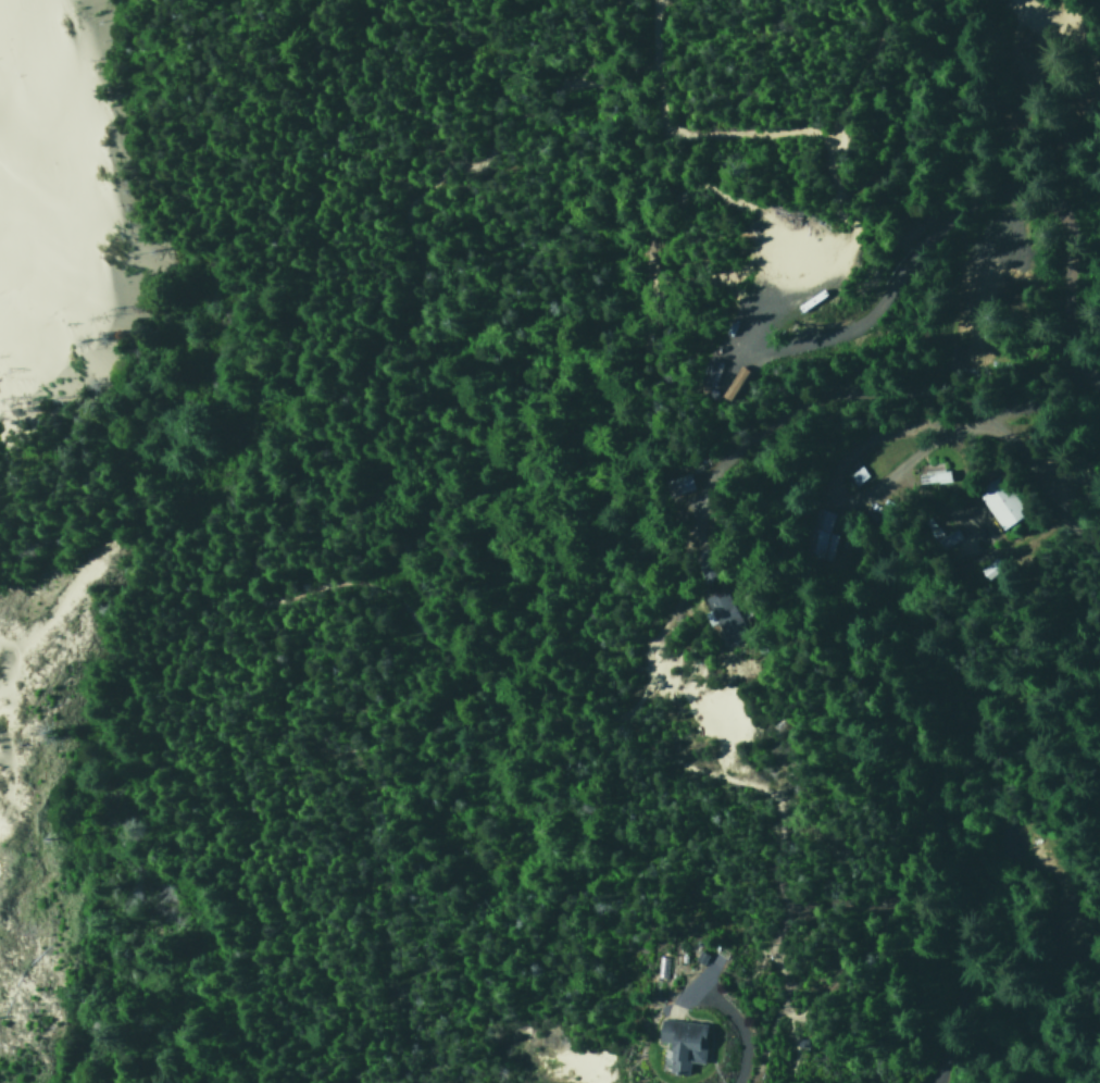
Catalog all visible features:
building: (705, 371)
building: (734, 383)
building: (852, 475)
building: (932, 476)
building: (675, 485)
building: (998, 501)
building: (815, 535)
building: (701, 564)
building: (722, 618)
building: (678, 1045)

